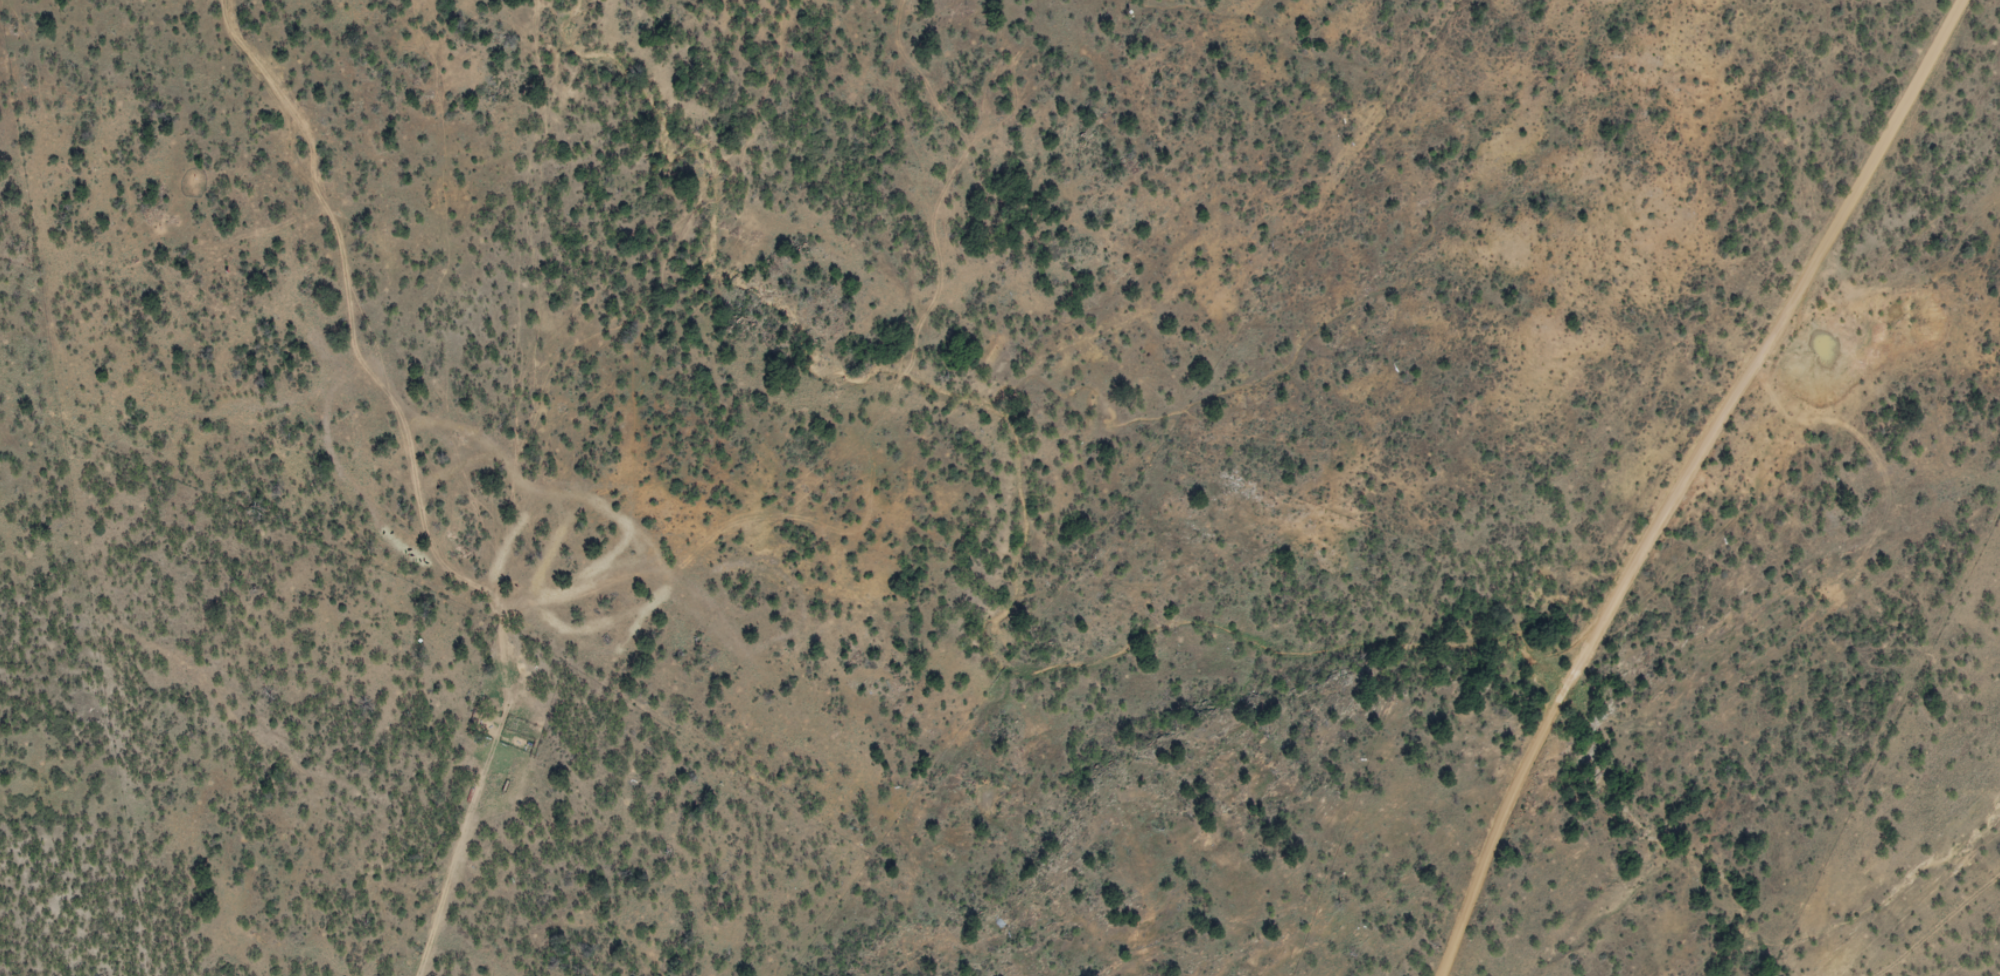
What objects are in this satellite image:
road: (1695, 479)
road: (411, 485)

